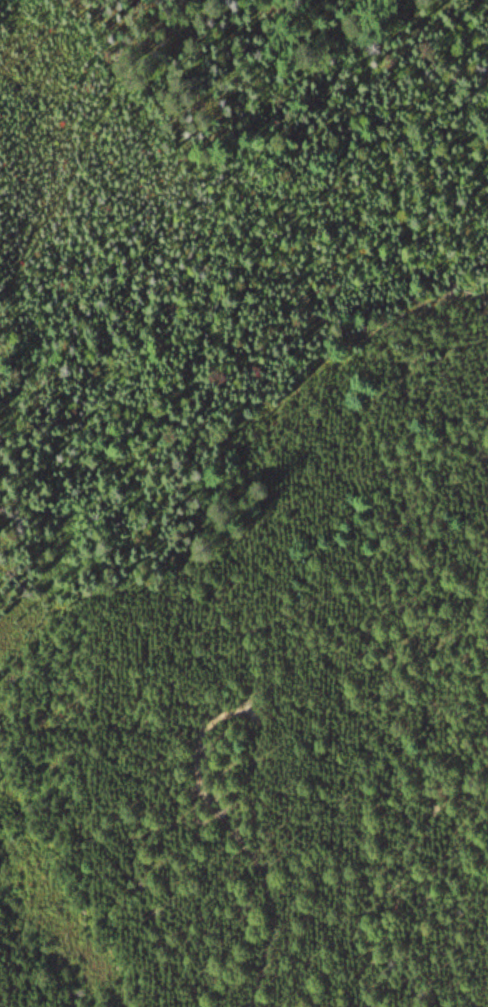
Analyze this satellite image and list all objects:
road: (237, 713)
road: (259, 939)

